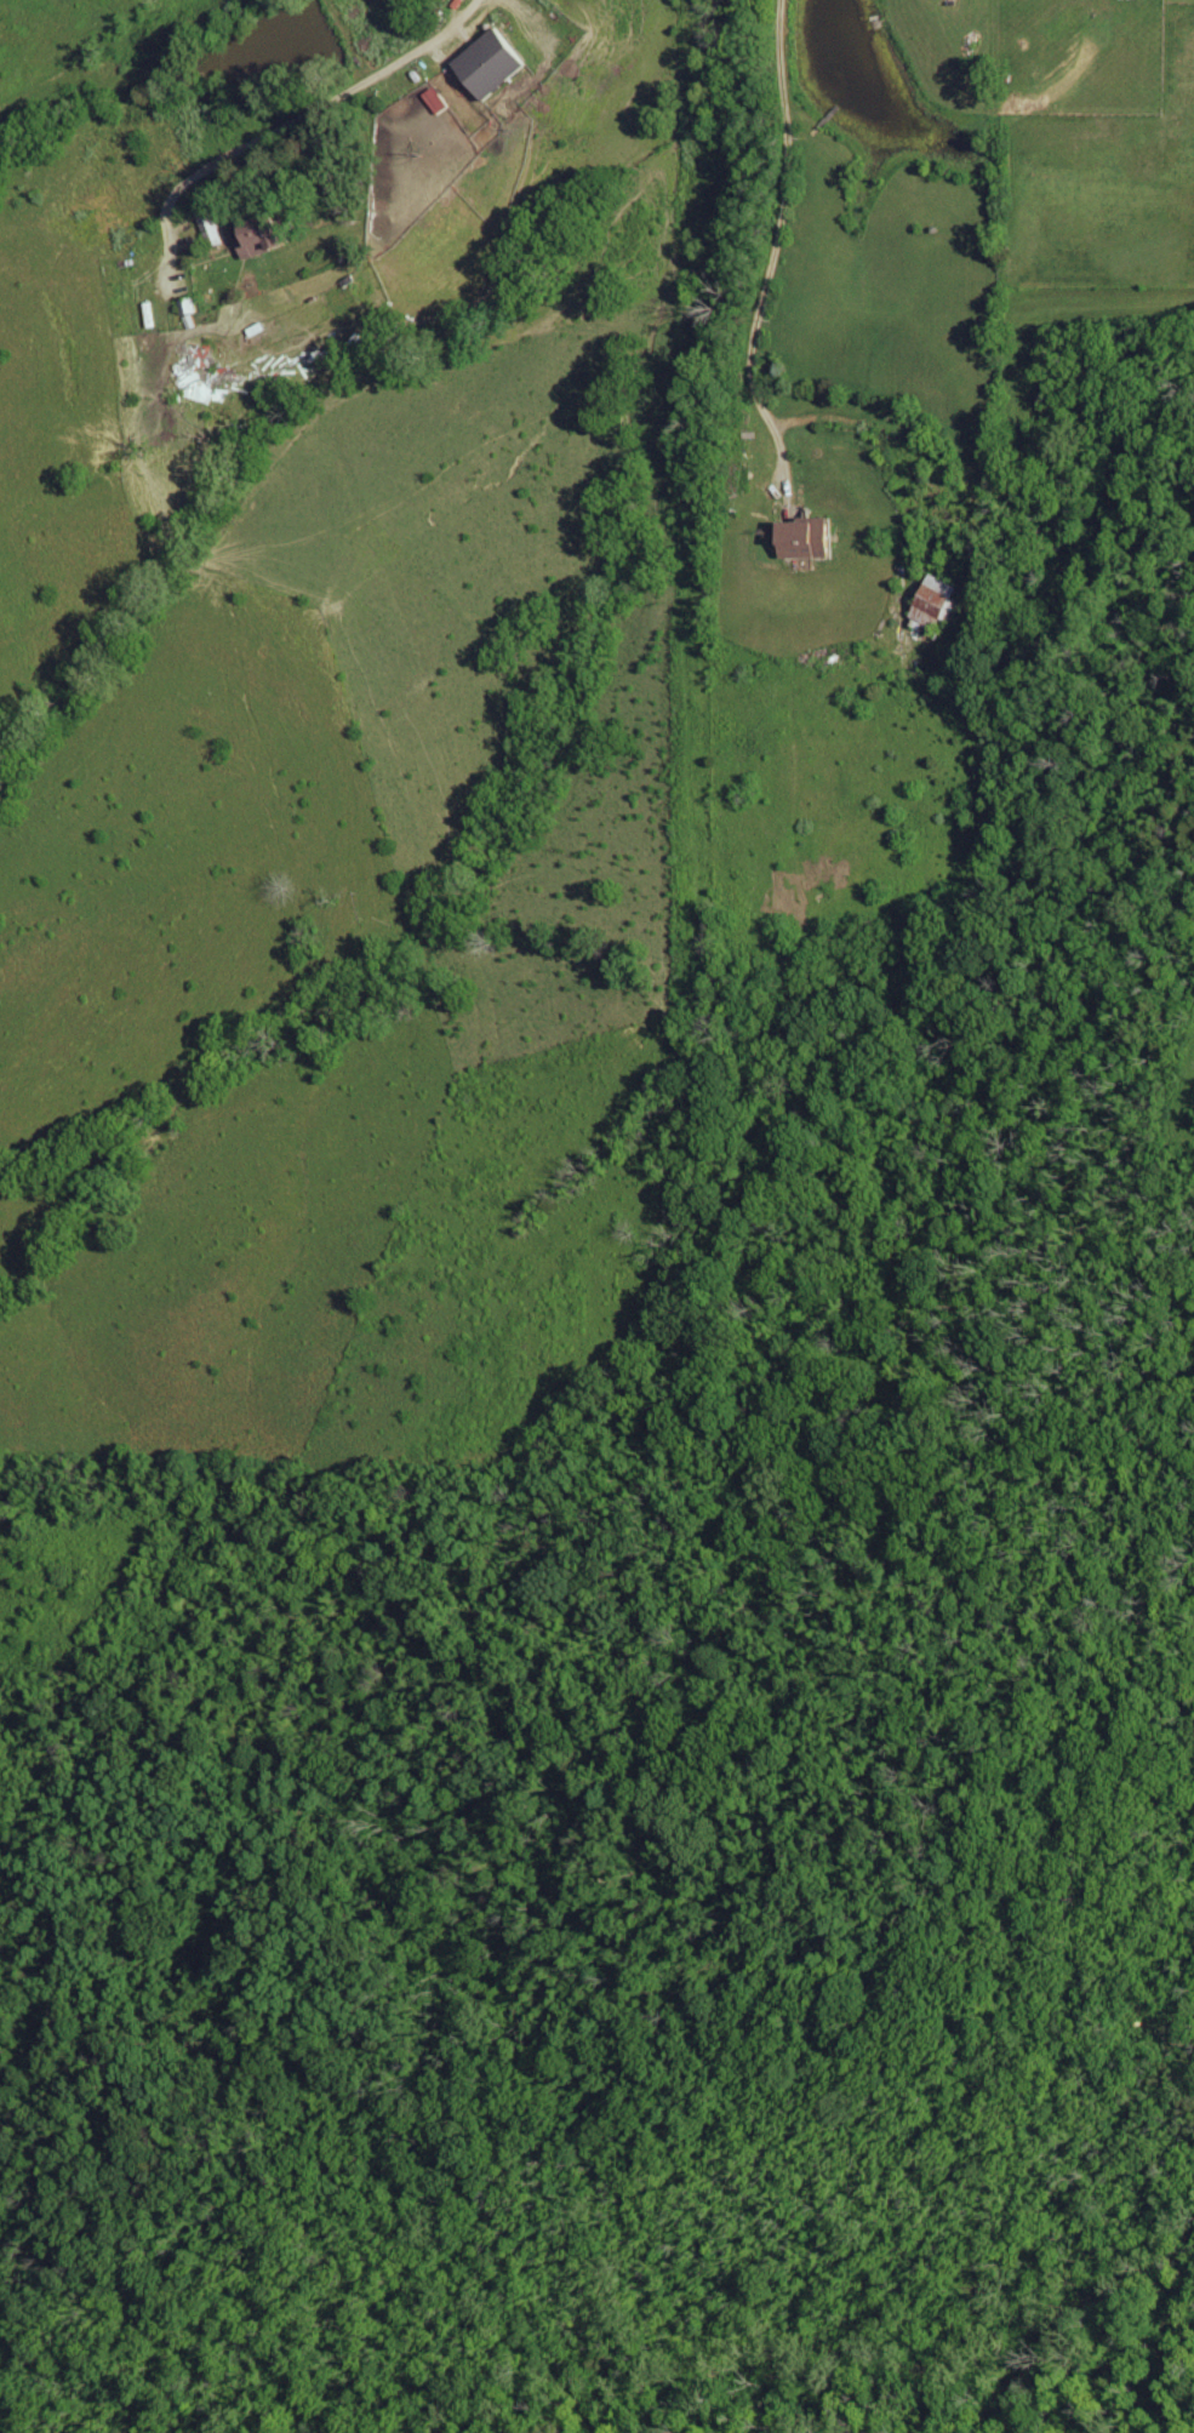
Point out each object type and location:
building: (497, 62)
road: (253, 139)
building: (272, 236)
road: (770, 253)
building: (192, 310)
building: (812, 539)
building: (942, 601)

